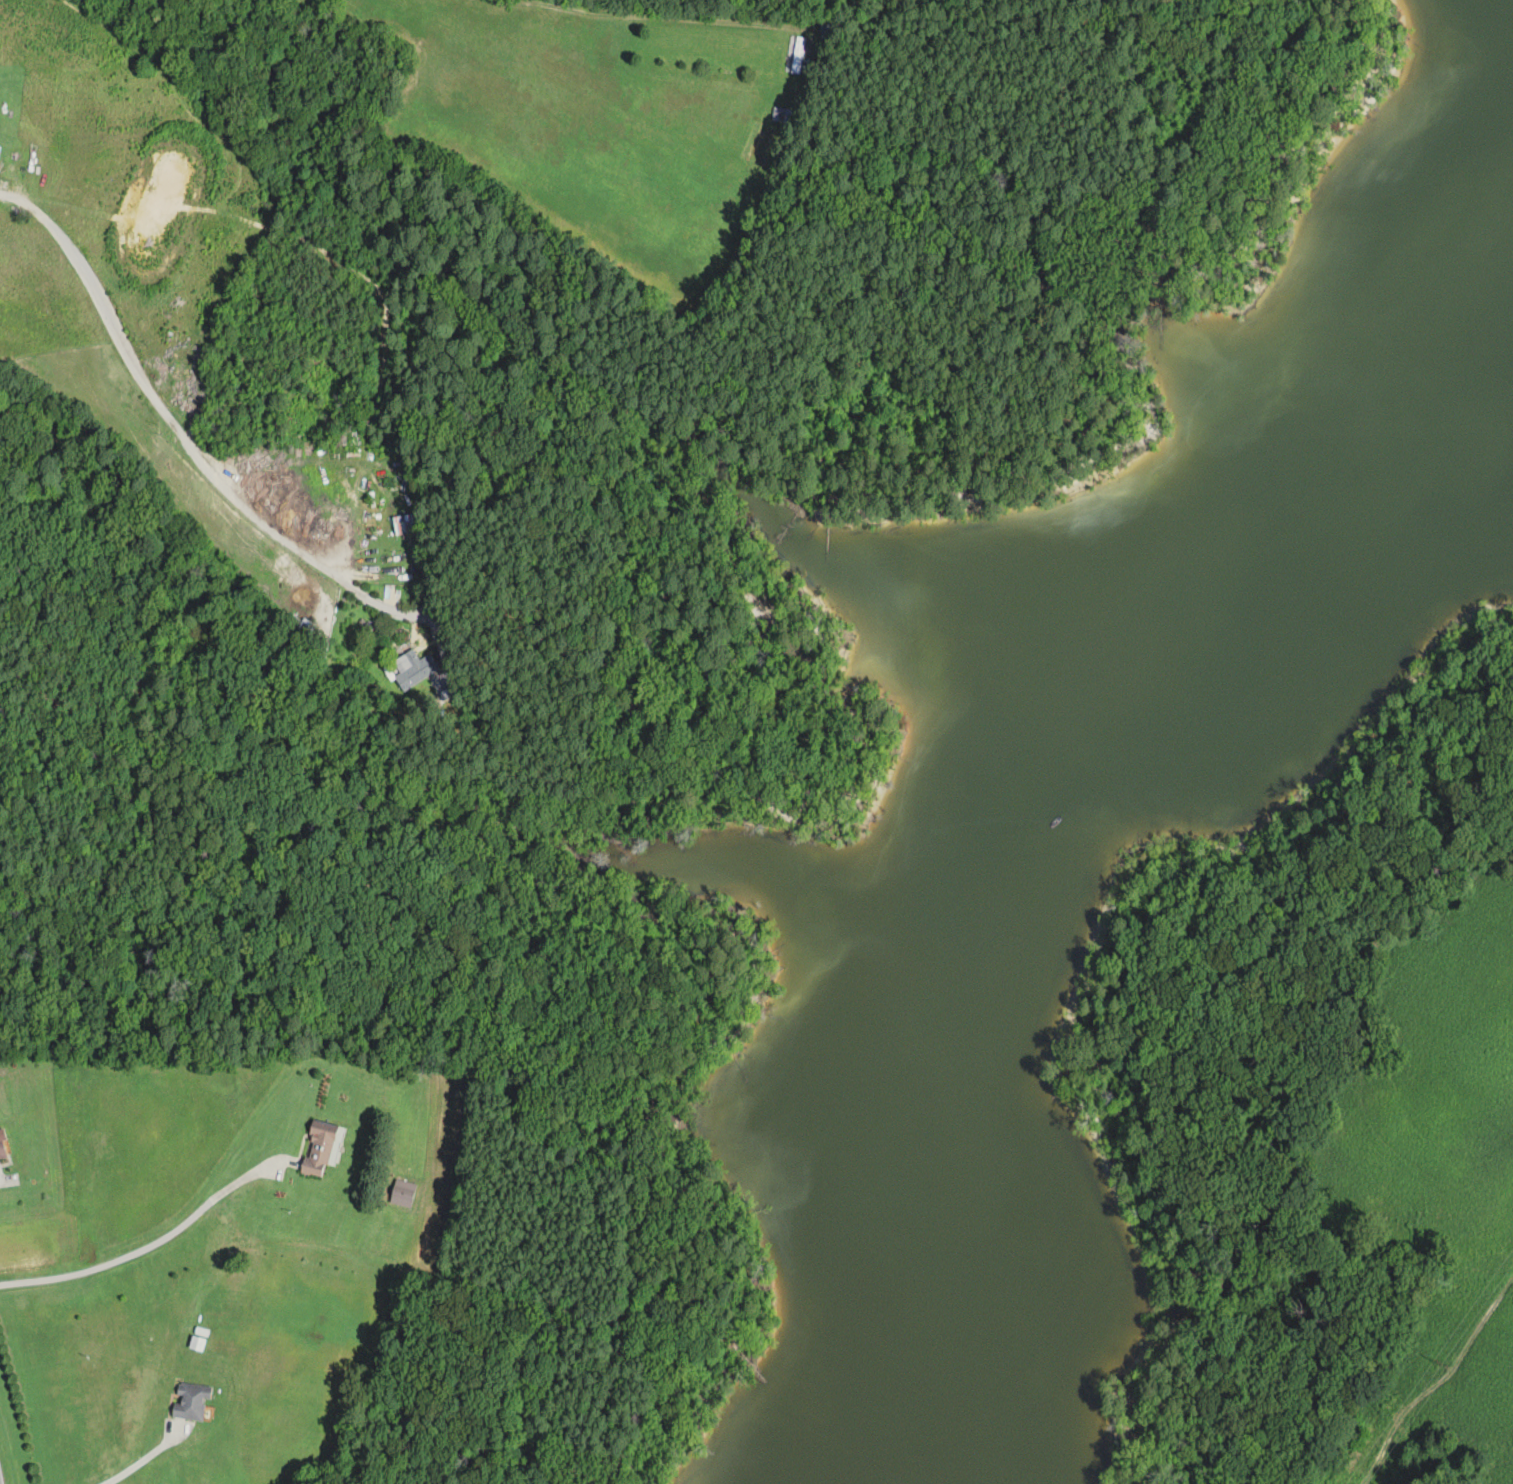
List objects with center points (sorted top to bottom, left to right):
road: (645, 14)
building: (829, 25)
building: (797, 54)
building: (783, 114)
park: (845, 373)
road: (178, 429)
building: (404, 523)
building: (306, 626)
building: (415, 669)
building: (321, 1147)
building: (1, 1150)
road: (158, 1240)
power tower: (1443, 1363)
building: (190, 1401)
road: (148, 1456)

